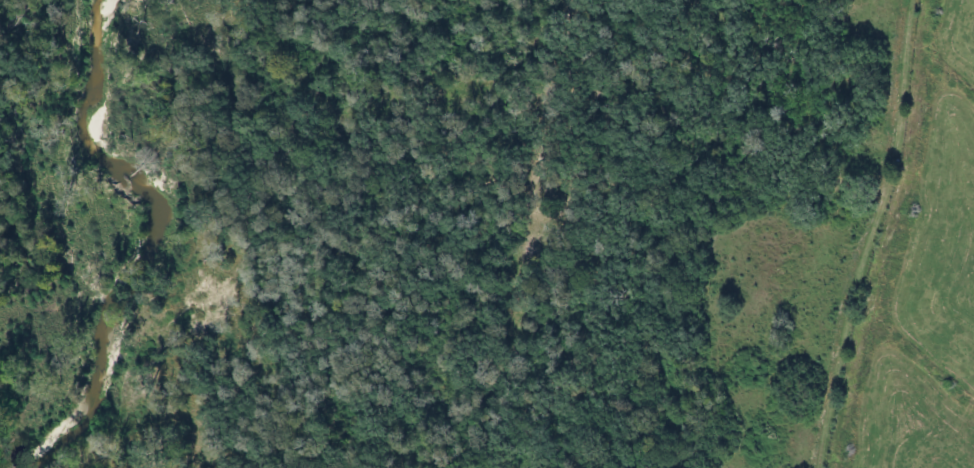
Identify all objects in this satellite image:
road: (887, 237)

